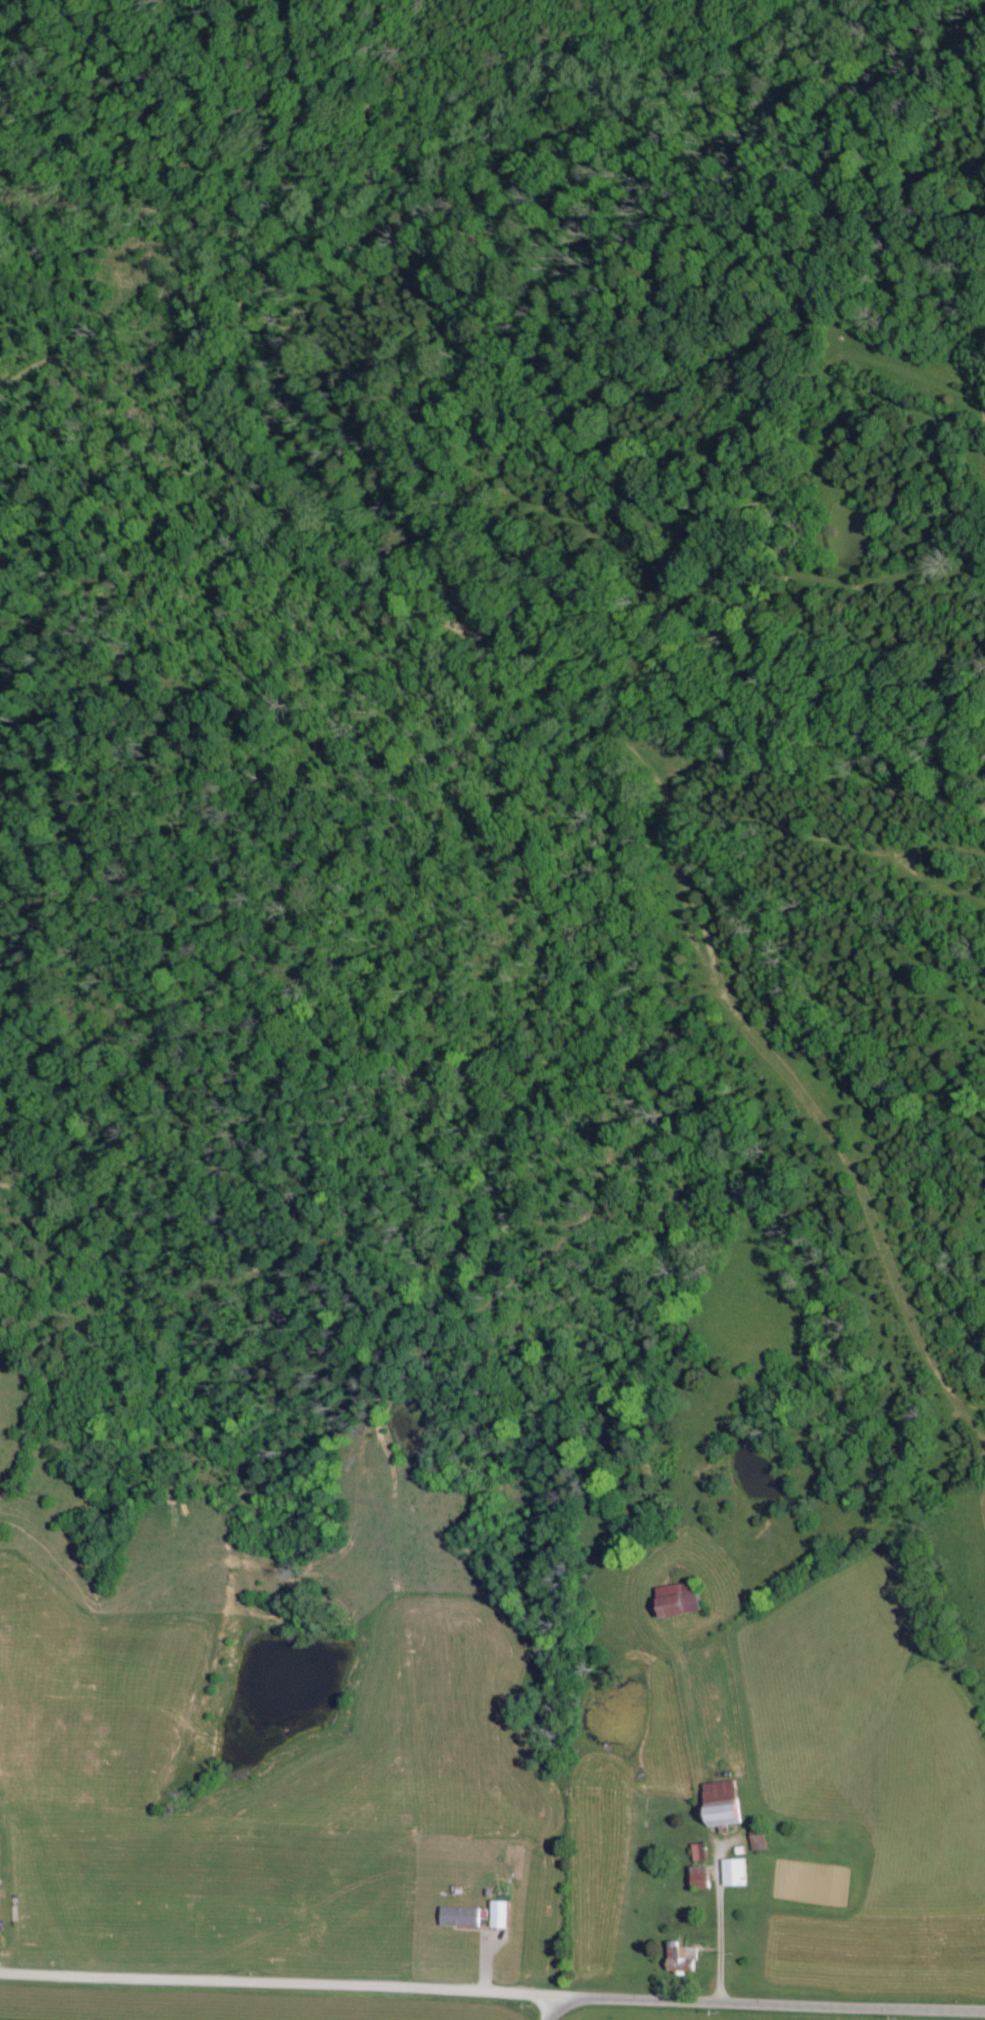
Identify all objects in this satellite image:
building: (681, 1600)
building: (723, 1803)
building: (758, 1841)
building: (735, 1874)
building: (701, 1878)
building: (501, 1915)
building: (460, 1918)
road: (723, 1941)
building: (682, 1961)
road: (282, 1981)
road: (771, 2004)
road: (555, 2013)

